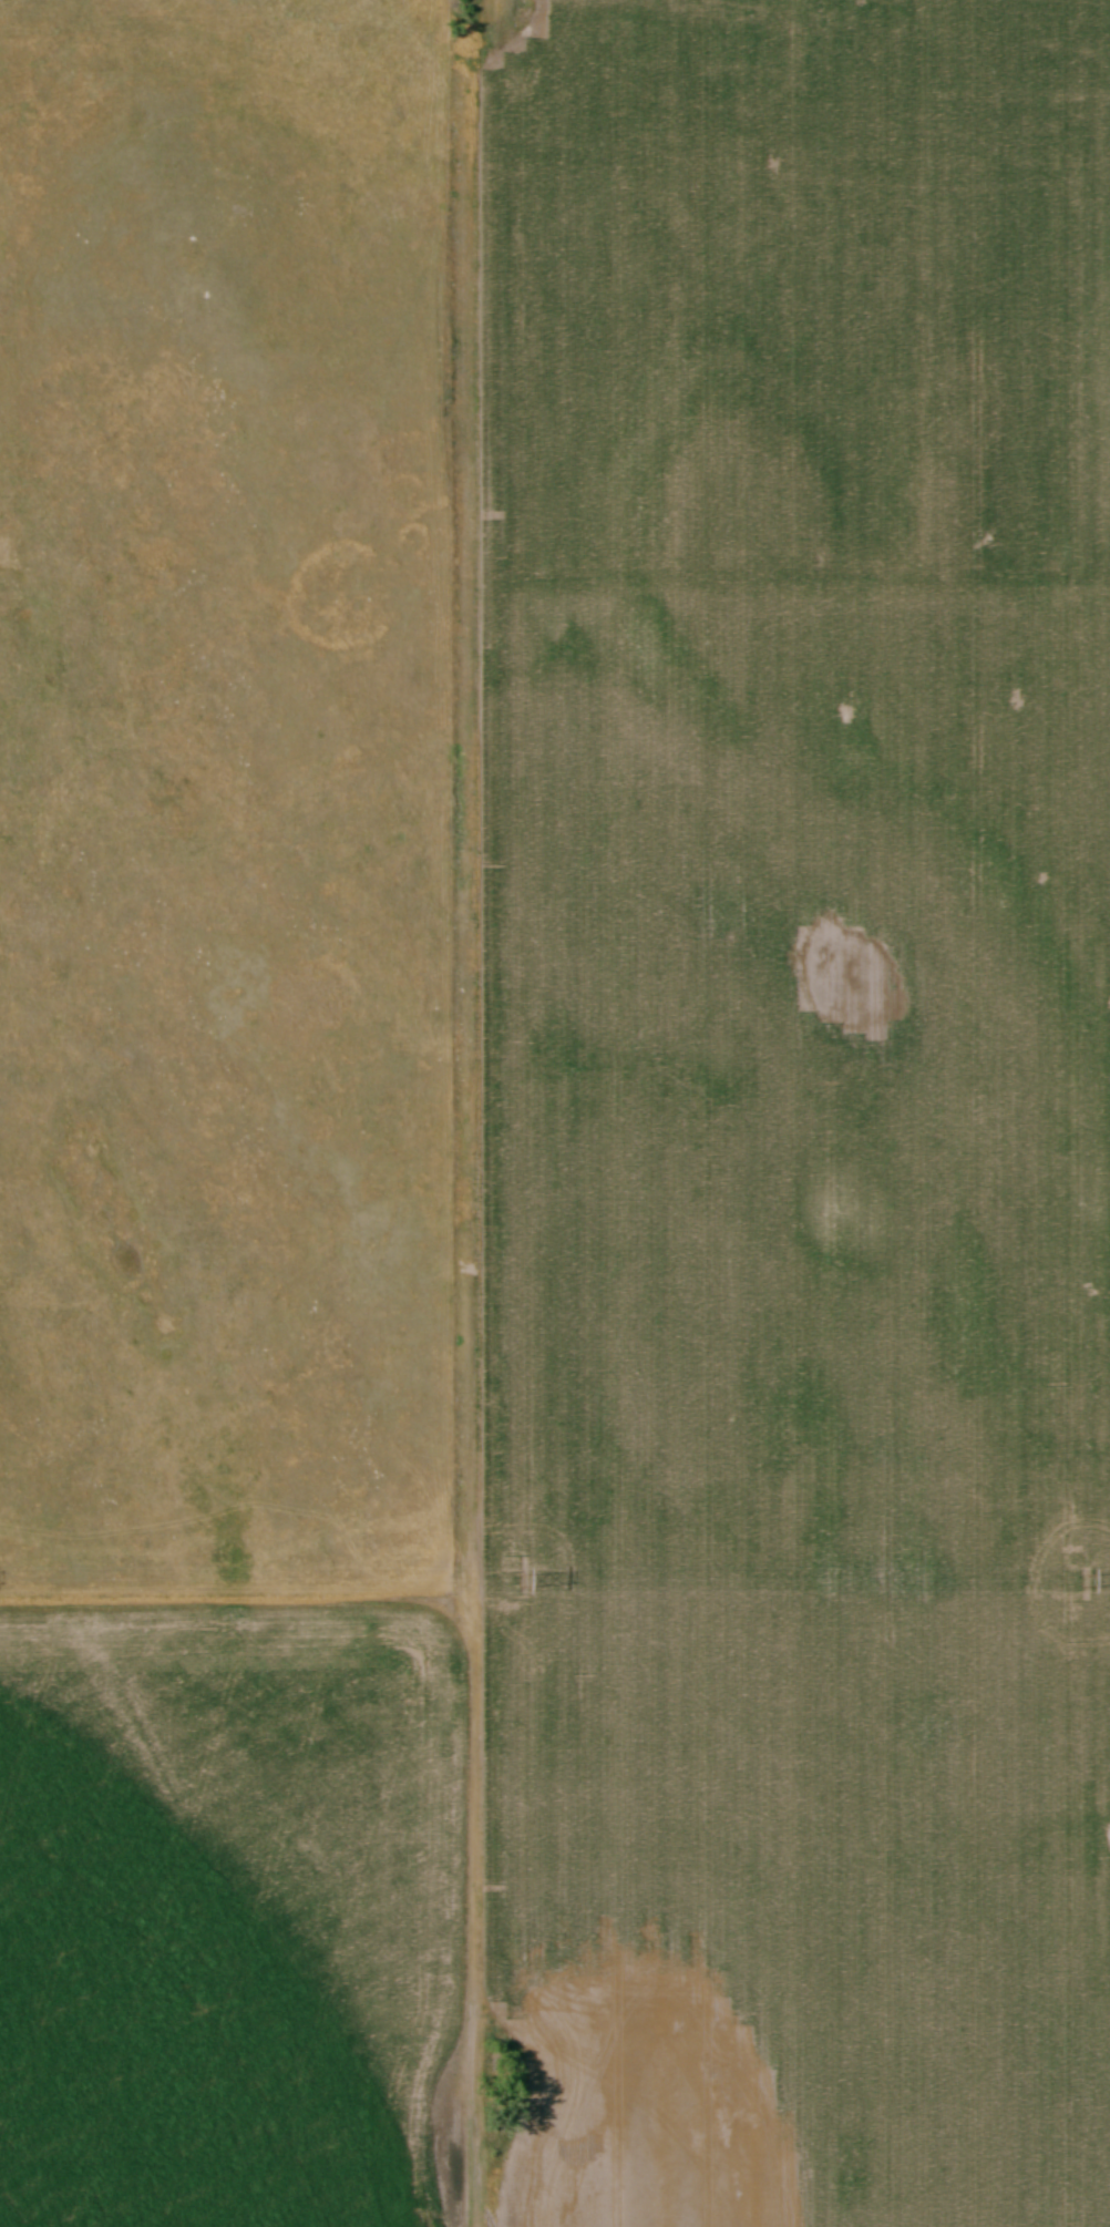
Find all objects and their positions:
road: (477, 1140)
power tower: (1092, 1581)
power tower: (528, 1584)

